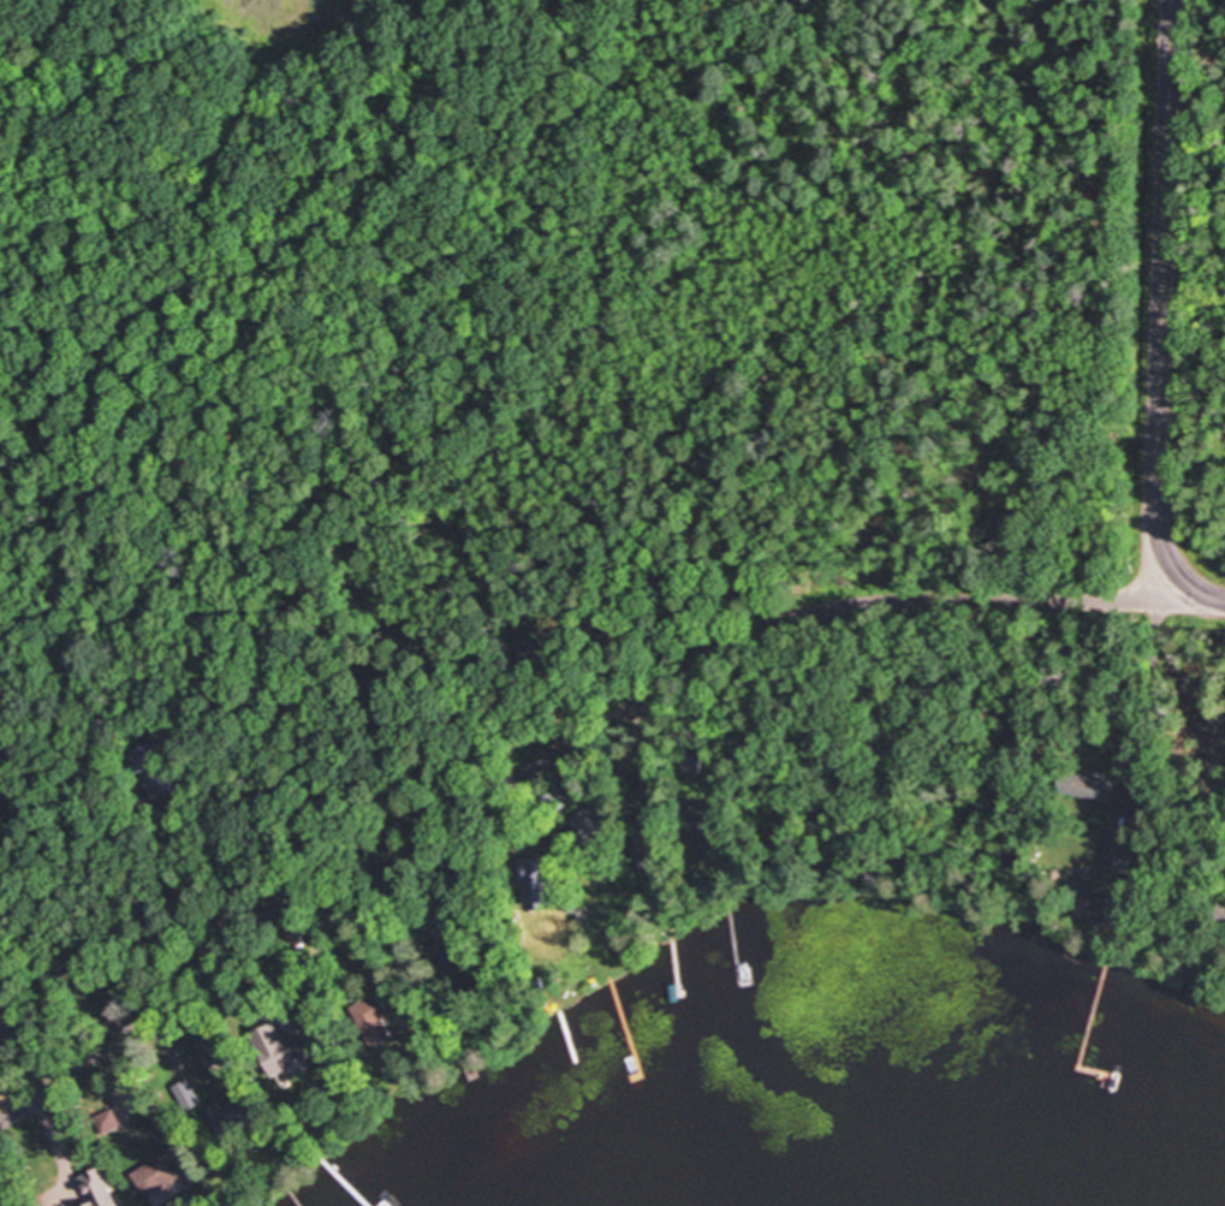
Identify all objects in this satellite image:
road: (1165, 297)
road: (1199, 599)
road: (553, 760)
road: (1155, 764)
building: (1087, 790)
building: (565, 795)
building: (594, 824)
building: (646, 834)
building: (299, 937)
building: (379, 1026)
river: (998, 1068)
building: (303, 1081)
building: (186, 1091)
building: (236, 1128)
building: (159, 1181)
building: (99, 1189)

